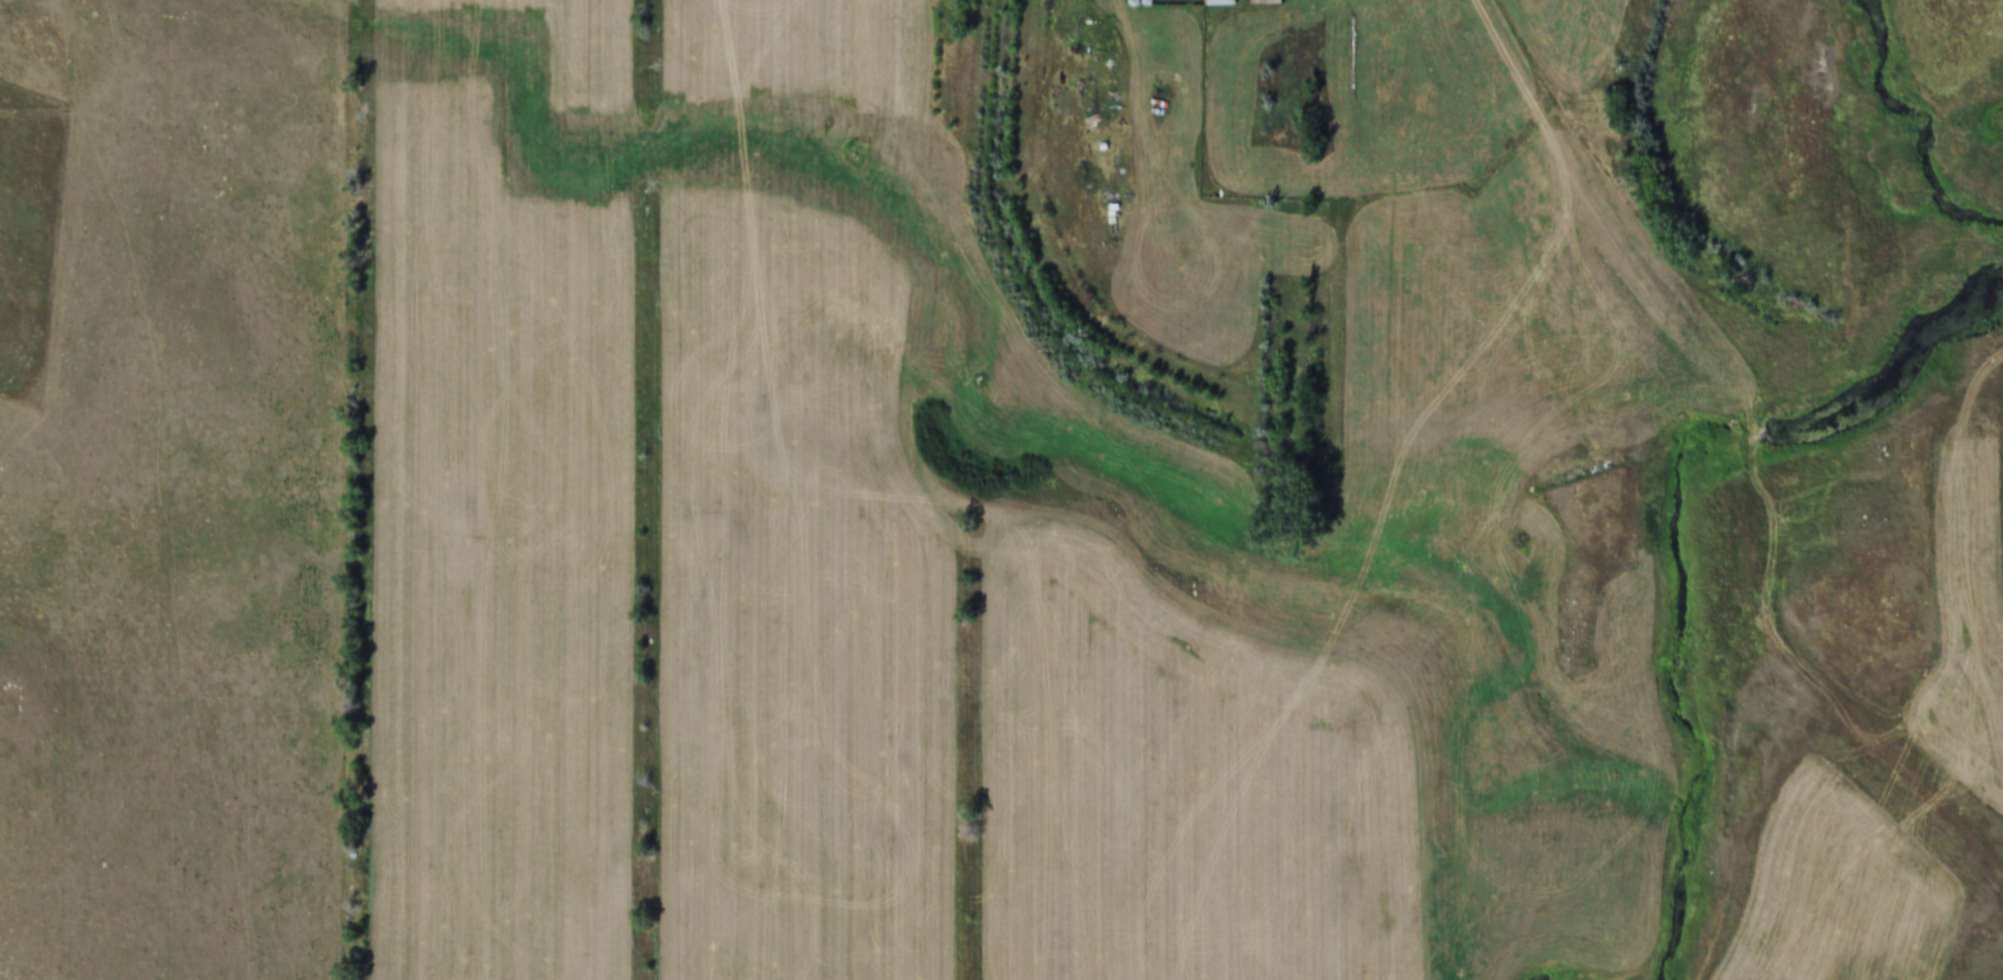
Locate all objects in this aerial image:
building: (1263, 0)
building: (1218, 2)
road: (1883, 437)
road: (1751, 453)
road: (1744, 835)

